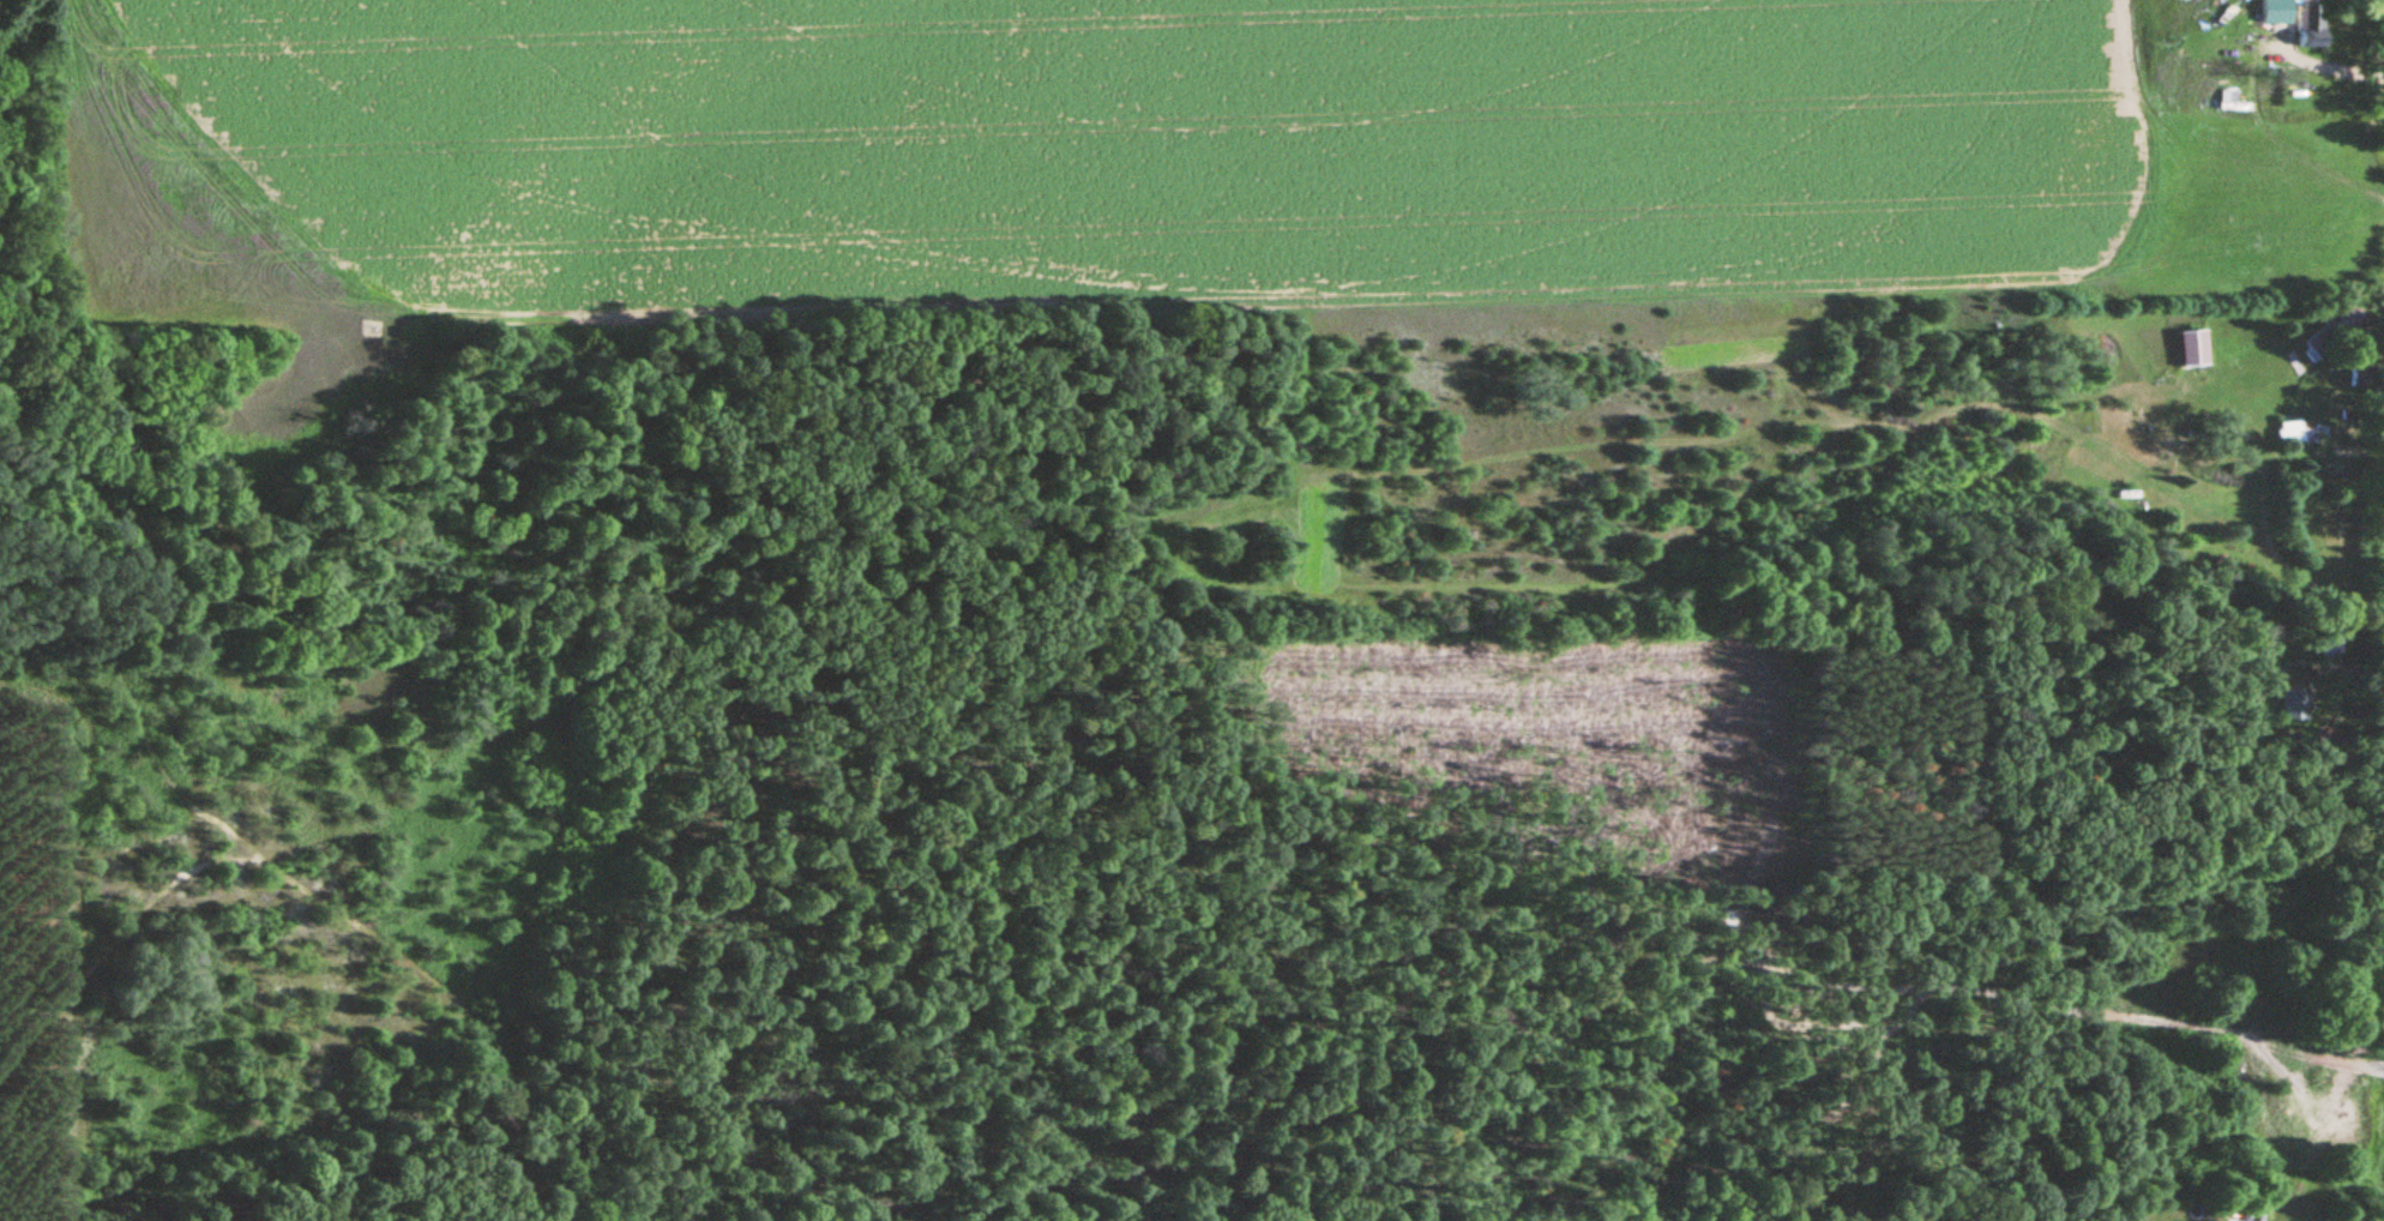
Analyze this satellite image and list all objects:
building: (2306, 28)
road: (2282, 41)
road: (2274, 54)
road: (2332, 68)
building: (2226, 103)
building: (2330, 331)
building: (2192, 345)
road: (2378, 365)
building: (2295, 431)
road: (2284, 564)
road: (331, 909)

